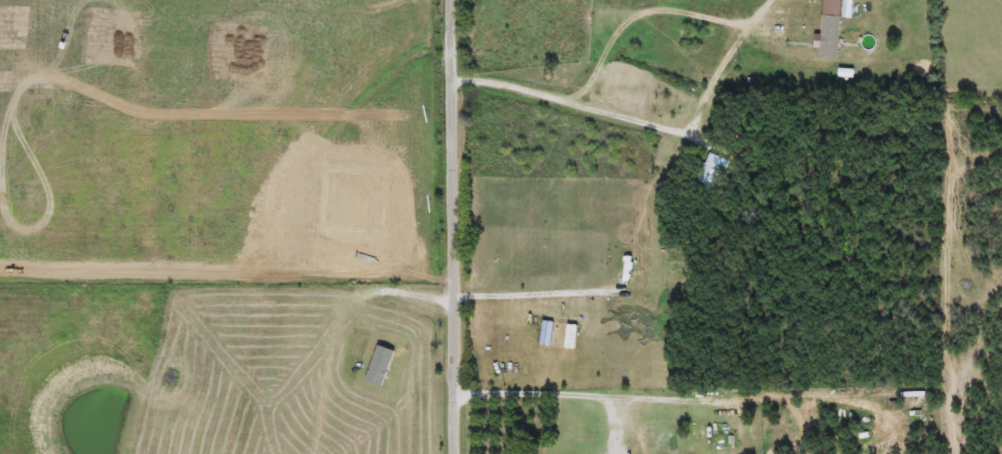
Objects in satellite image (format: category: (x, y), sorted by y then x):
road: (706, 98)
road: (447, 227)
road: (668, 404)

